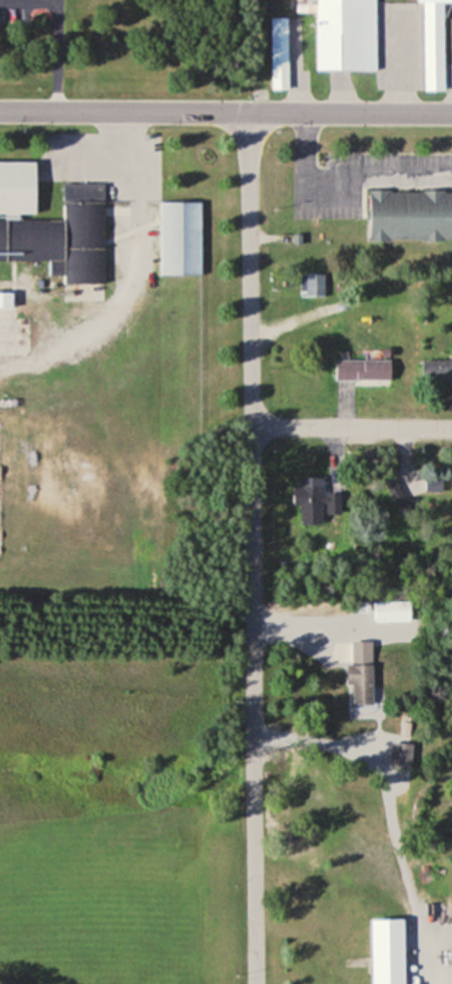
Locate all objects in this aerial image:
building: (343, 33)
building: (433, 44)
building: (279, 53)
road: (225, 113)
building: (409, 214)
building: (55, 230)
building: (181, 238)
building: (363, 370)
building: (436, 371)
road: (351, 427)
building: (451, 488)
building: (311, 499)
road: (251, 548)
building: (392, 612)
building: (360, 683)
building: (400, 756)
building: (388, 966)

